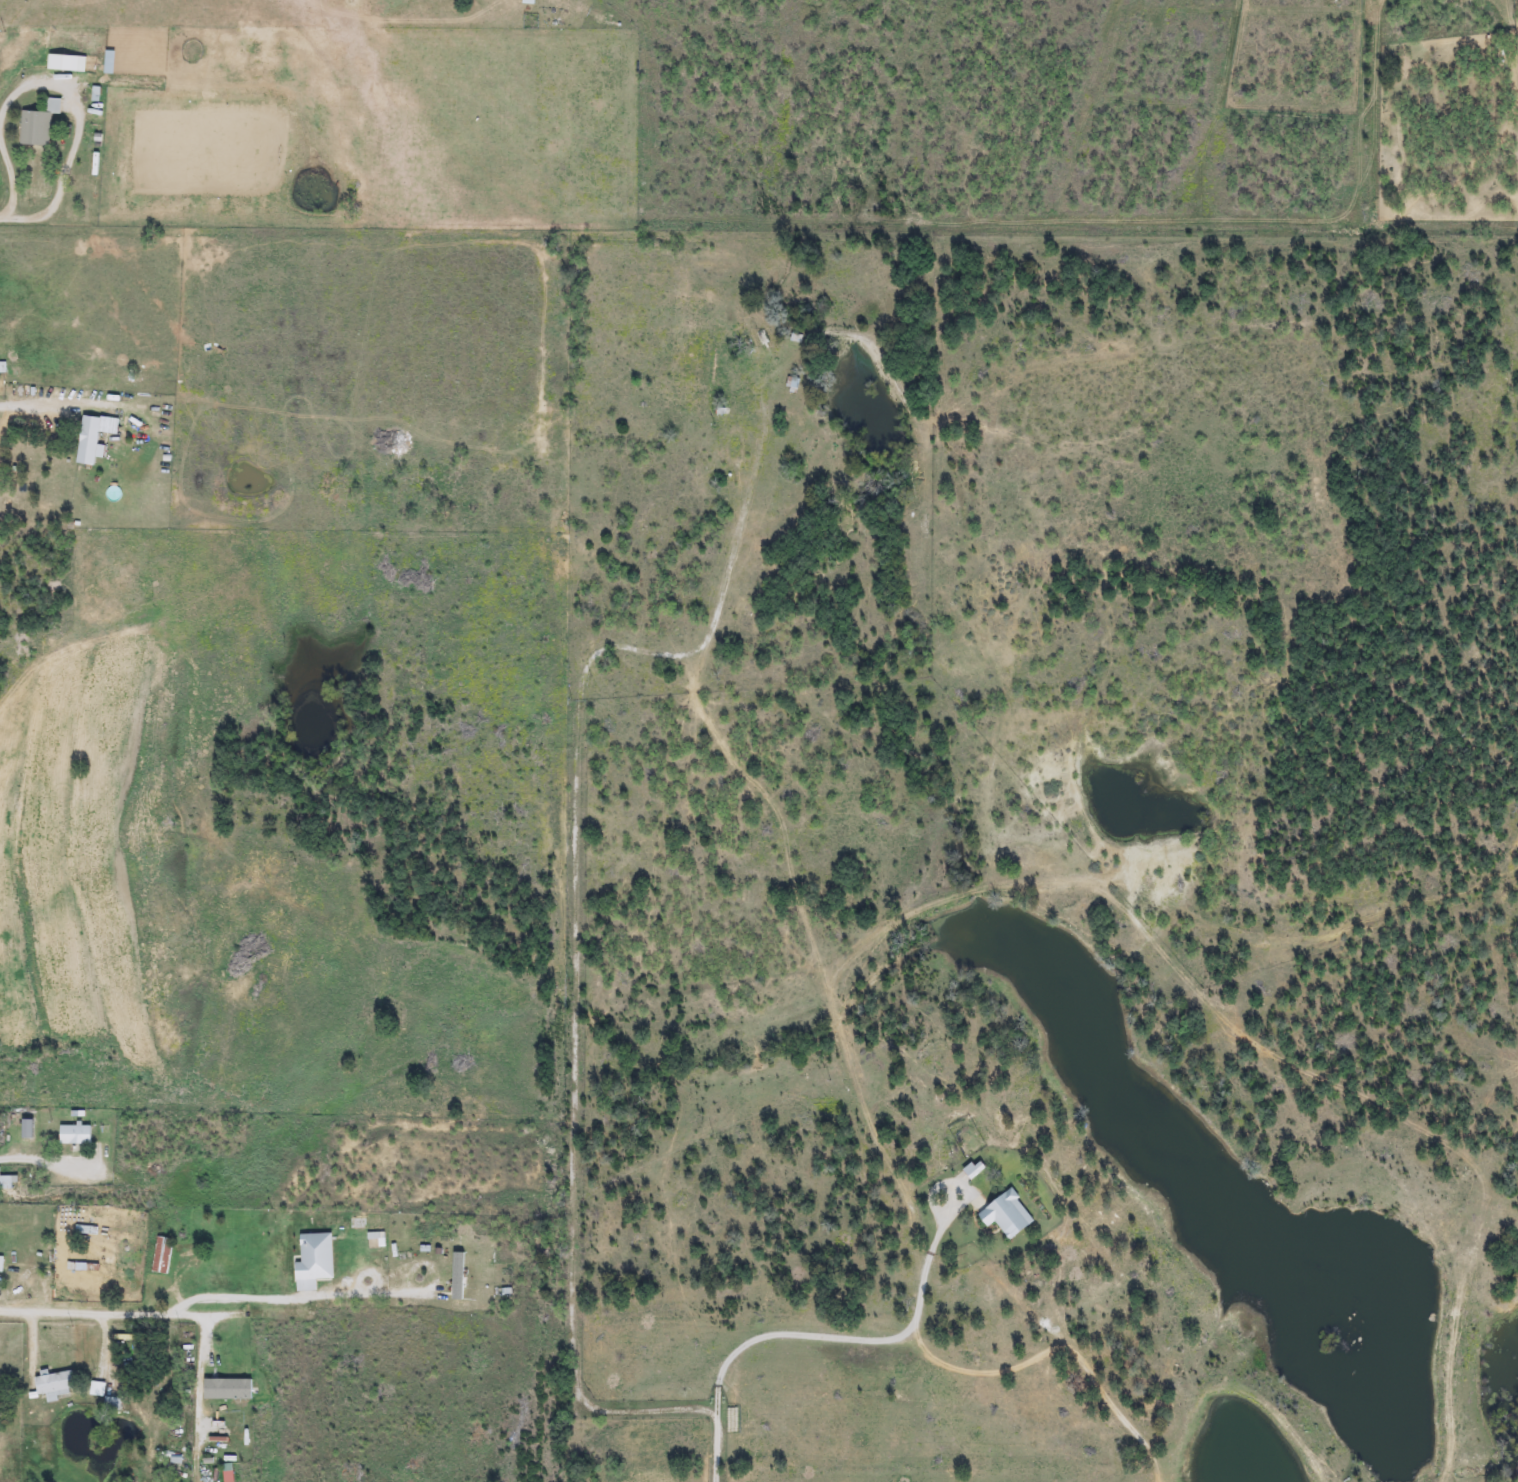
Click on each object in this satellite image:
building: (61, 62)
road: (66, 84)
building: (37, 124)
road: (4, 216)
road: (32, 403)
building: (93, 436)
road: (82, 976)
building: (74, 1135)
road: (39, 1160)
building: (8, 1182)
building: (1006, 1214)
building: (161, 1255)
building: (314, 1257)
building: (457, 1273)
road: (208, 1298)
road: (819, 1336)
road: (1059, 1349)
building: (53, 1385)
building: (226, 1389)
building: (101, 1397)

